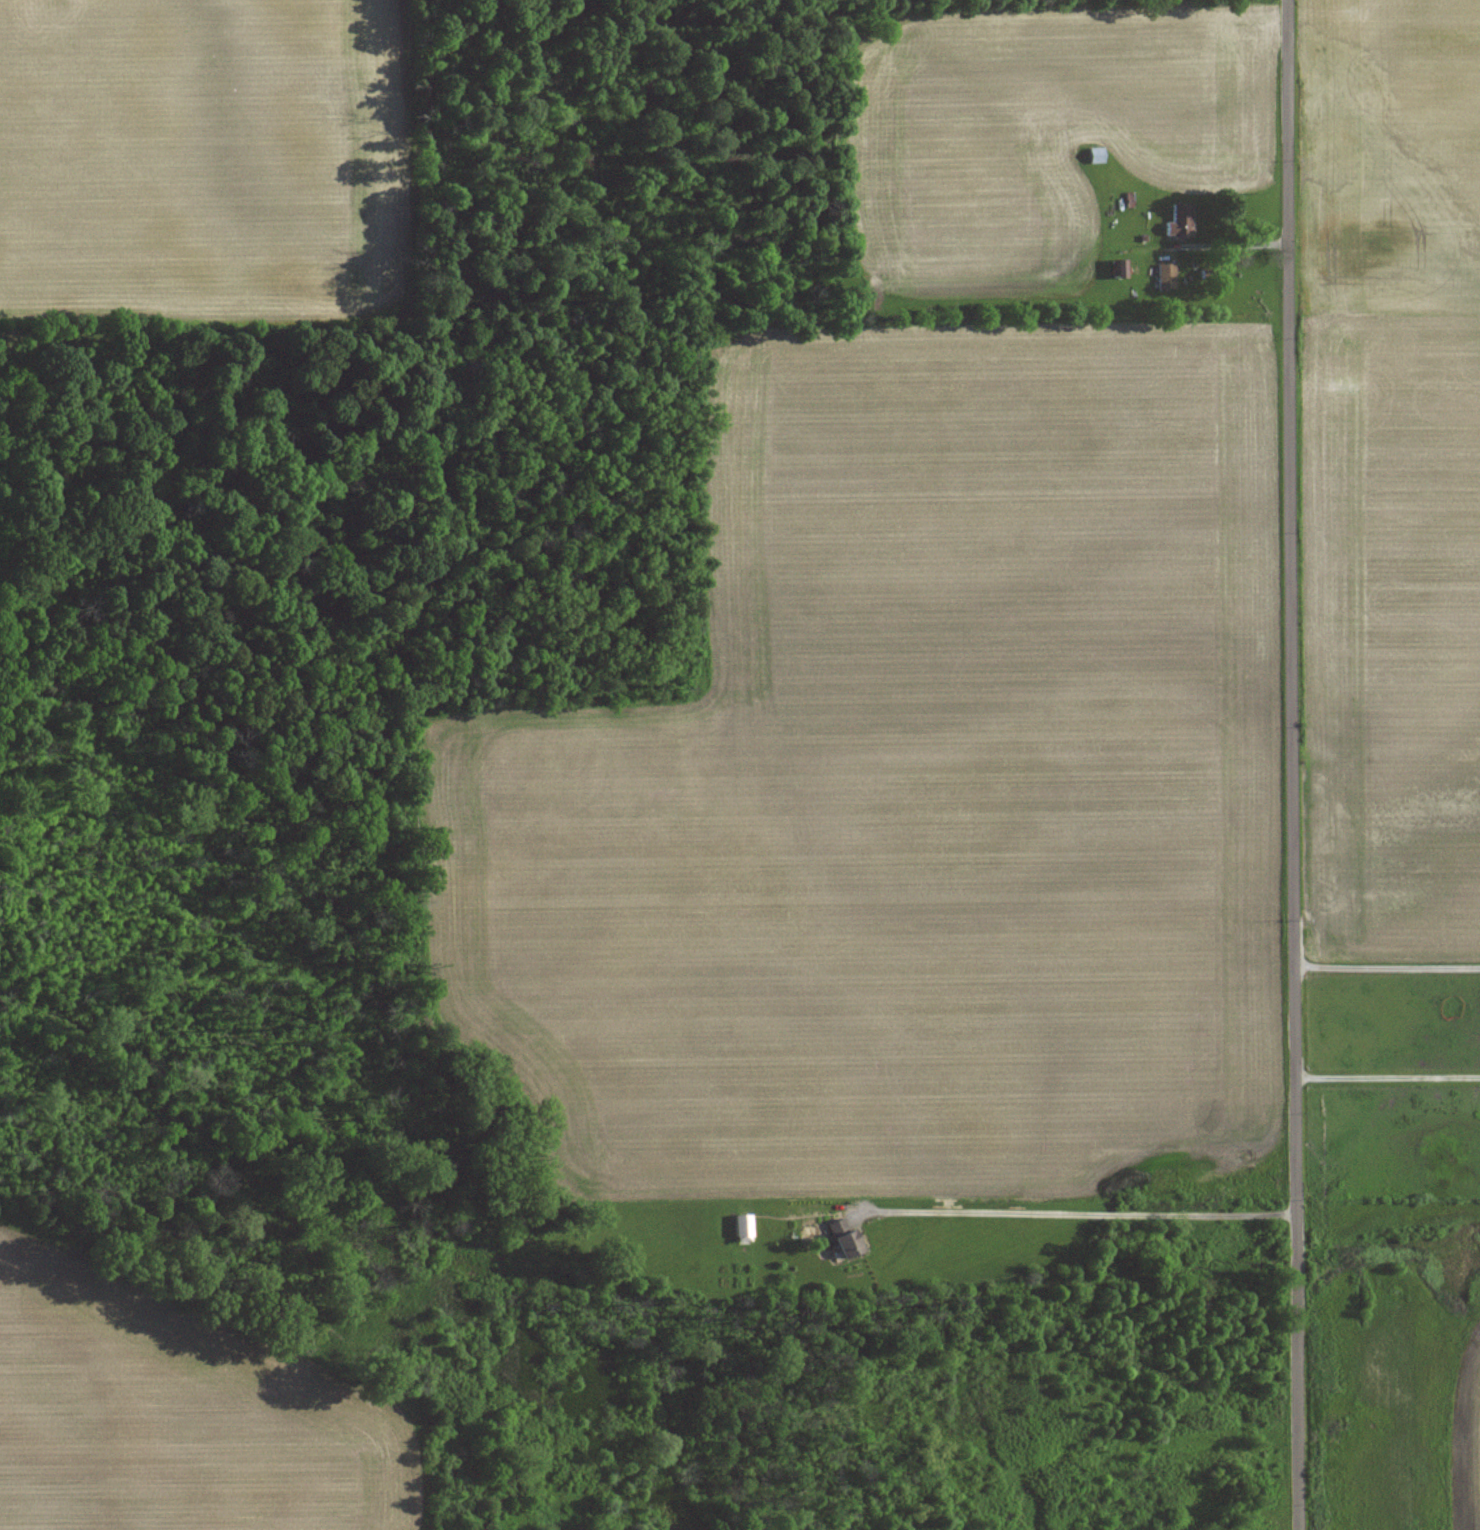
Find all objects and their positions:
building: (1094, 155)
building: (1180, 221)
road: (1238, 246)
building: (1119, 268)
building: (1165, 275)
road: (1297, 765)
road: (1389, 965)
road: (1389, 1076)
road: (1079, 1212)
building: (739, 1228)
building: (839, 1238)

